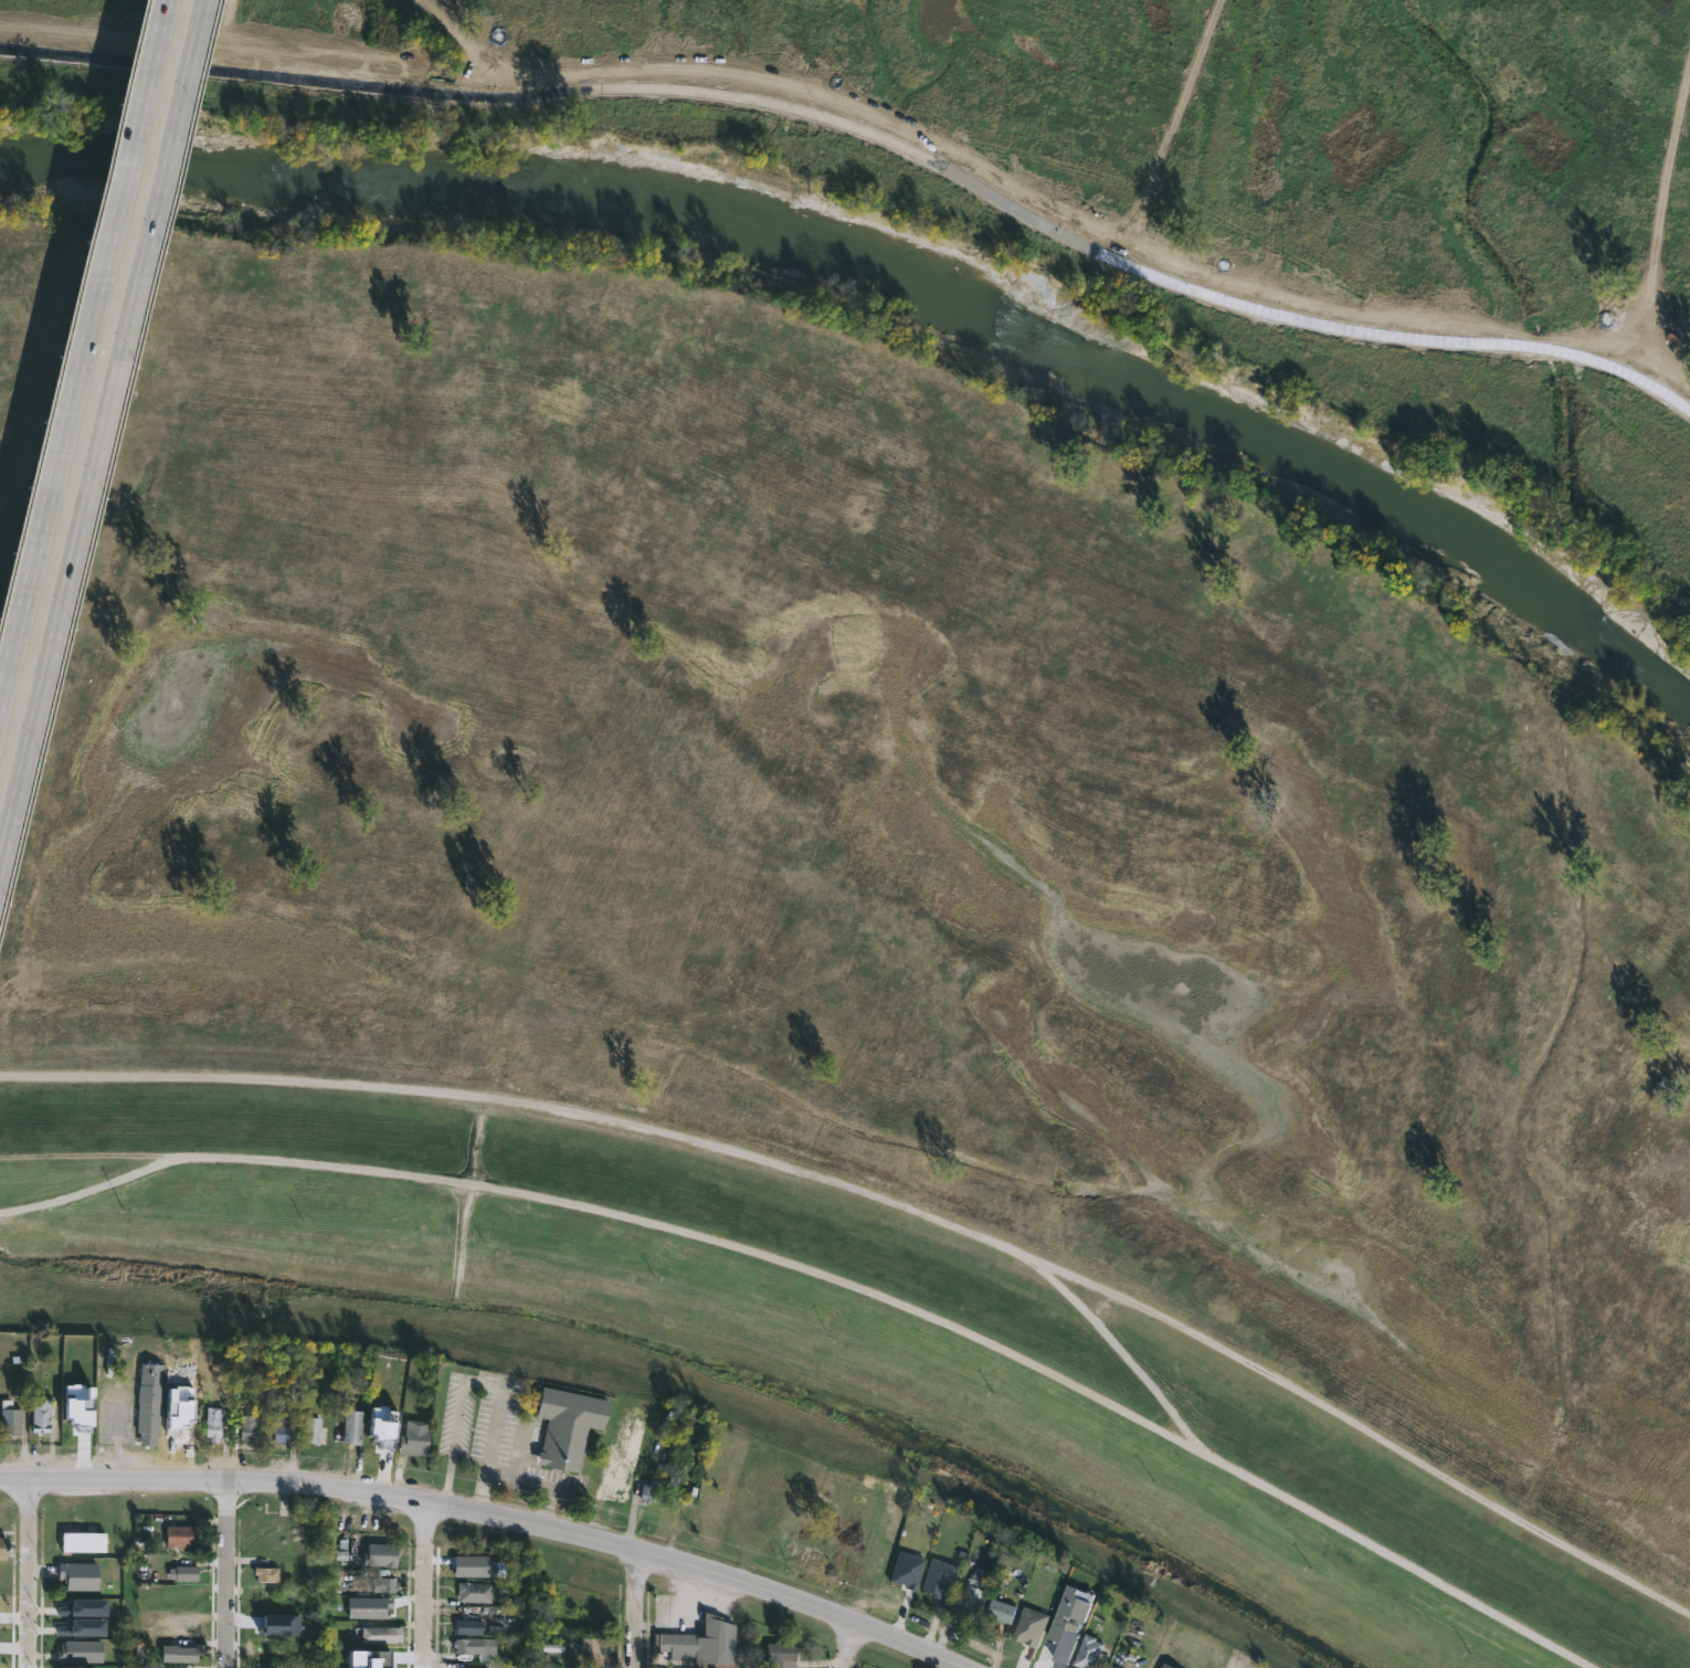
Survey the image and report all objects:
road: (147, 74)
road: (187, 78)
river: (891, 286)
road: (65, 421)
road: (84, 508)
park: (888, 751)
road: (88, 1190)
road: (886, 1212)
road: (706, 1235)
road: (1117, 1348)
road: (484, 1385)
building: (152, 1397)
building: (43, 1414)
building: (78, 1415)
building: (12, 1417)
building: (180, 1418)
building: (215, 1422)
building: (566, 1425)
building: (250, 1426)
building: (356, 1426)
building: (317, 1429)
building: (283, 1432)
building: (416, 1438)
road: (542, 1478)
building: (661, 1491)
road: (496, 1514)
building: (184, 1535)
building: (66, 1538)
building: (4, 1546)
building: (383, 1553)
road: (1398, 1558)
building: (473, 1564)
building: (902, 1567)
building: (184, 1572)
road: (29, 1573)
road: (229, 1573)
building: (268, 1574)
building: (78, 1575)
building: (936, 1575)
road: (425, 1584)
building: (385, 1585)
building: (476, 1591)
building: (971, 1597)
building: (273, 1600)
building: (372, 1605)
building: (87, 1606)
road: (635, 1607)
building: (997, 1611)
building: (1068, 1618)
building: (283, 1624)
building: (471, 1624)
building: (1027, 1626)
building: (88, 1627)
building: (189, 1628)
building: (383, 1636)
road: (846, 1641)
building: (704, 1643)
building: (476, 1647)
building: (592, 1650)
building: (78, 1651)
building: (179, 1653)
building: (782, 1654)
building: (1088, 1654)
building: (374, 1657)
building: (1165, 1665)
building: (78, 1667)
building: (478, 1667)

